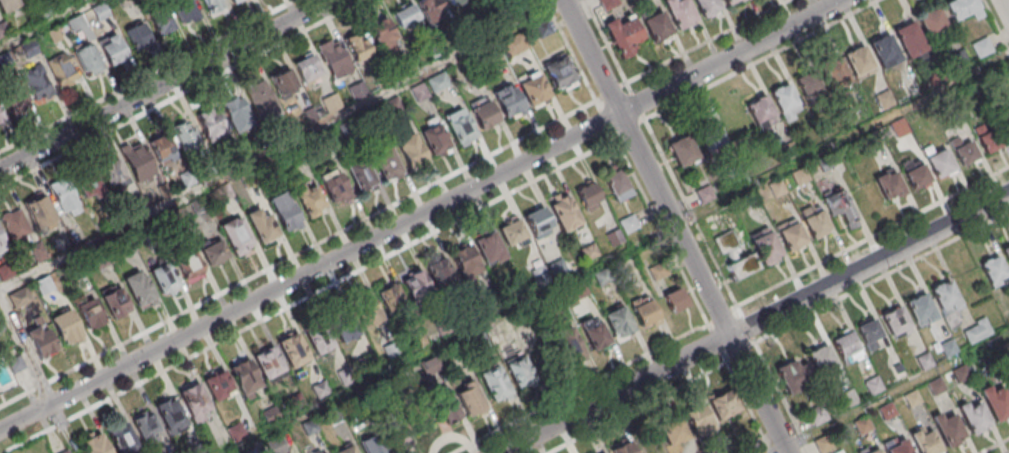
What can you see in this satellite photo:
building: (233, 1)
building: (730, 2)
building: (455, 3)
building: (7, 4)
building: (211, 4)
building: (609, 4)
road: (1005, 6)
building: (707, 7)
building: (963, 8)
building: (430, 10)
building: (184, 11)
building: (99, 13)
building: (679, 13)
building: (161, 22)
building: (932, 22)
road: (45, 23)
building: (75, 24)
road: (996, 24)
building: (657, 27)
building: (3, 28)
building: (393, 28)
building: (138, 35)
building: (909, 39)
road: (708, 42)
building: (357, 47)
building: (981, 47)
building: (113, 50)
building: (884, 50)
building: (959, 56)
building: (88, 58)
building: (334, 58)
road: (763, 60)
building: (859, 62)
building: (306, 68)
building: (60, 69)
building: (834, 73)
building: (560, 74)
building: (285, 83)
building: (37, 84)
road: (165, 84)
building: (810, 86)
building: (533, 89)
road: (180, 92)
road: (611, 92)
building: (10, 96)
building: (260, 98)
building: (509, 101)
road: (635, 102)
building: (785, 102)
building: (760, 111)
building: (237, 114)
building: (1, 117)
building: (1006, 118)
road: (605, 121)
building: (211, 124)
building: (460, 126)
road: (630, 129)
building: (710, 135)
building: (185, 136)
building: (989, 136)
building: (434, 138)
road: (842, 141)
road: (285, 146)
building: (963, 148)
building: (682, 150)
building: (162, 151)
building: (411, 151)
building: (938, 161)
building: (386, 164)
building: (140, 166)
building: (916, 173)
building: (113, 174)
building: (361, 176)
building: (889, 185)
building: (334, 187)
building: (618, 187)
building: (90, 189)
building: (588, 195)
building: (65, 196)
building: (310, 198)
building: (840, 207)
building: (39, 212)
building: (285, 212)
road: (421, 214)
building: (566, 216)
road: (694, 219)
building: (815, 221)
building: (539, 223)
building: (15, 225)
building: (629, 225)
building: (264, 227)
road: (675, 227)
building: (791, 234)
building: (236, 235)
road: (872, 235)
road: (664, 237)
building: (615, 239)
building: (725, 241)
building: (2, 245)
building: (765, 246)
building: (490, 251)
building: (214, 253)
building: (590, 253)
building: (1007, 254)
building: (191, 262)
building: (467, 264)
building: (741, 266)
building: (558, 270)
building: (658, 273)
building: (995, 273)
building: (442, 277)
building: (603, 278)
road: (882, 278)
building: (542, 279)
building: (165, 281)
building: (416, 287)
building: (139, 290)
road: (309, 296)
building: (675, 299)
building: (946, 299)
building: (555, 302)
building: (393, 303)
building: (115, 304)
building: (483, 308)
building: (644, 311)
building: (921, 311)
building: (367, 313)
building: (89, 315)
road: (723, 317)
building: (618, 322)
road: (755, 323)
building: (897, 324)
building: (344, 327)
building: (444, 327)
building: (66, 328)
road: (748, 329)
building: (594, 332)
building: (978, 334)
building: (870, 335)
building: (318, 339)
building: (419, 339)
building: (41, 340)
building: (480, 342)
road: (718, 344)
building: (570, 345)
building: (847, 350)
building: (949, 350)
building: (1006, 350)
building: (393, 351)
building: (293, 352)
road: (741, 353)
road: (726, 359)
building: (823, 363)
building: (926, 363)
building: (368, 364)
building: (269, 366)
building: (429, 368)
building: (518, 372)
building: (899, 372)
building: (962, 375)
road: (36, 376)
building: (346, 377)
building: (245, 379)
building: (795, 379)
building: (1007, 380)
building: (494, 383)
building: (875, 387)
building: (219, 388)
road: (583, 388)
building: (938, 388)
building: (321, 391)
building: (385, 392)
road: (781, 396)
building: (469, 399)
building: (913, 400)
building: (194, 402)
building: (296, 403)
building: (997, 404)
building: (445, 406)
building: (724, 406)
road: (639, 408)
road: (750, 408)
road: (860, 412)
building: (888, 412)
building: (171, 416)
building: (271, 417)
building: (333, 417)
building: (818, 417)
building: (975, 420)
building: (699, 423)
building: (864, 427)
building: (310, 429)
building: (147, 430)
building: (673, 430)
building: (950, 431)
building: (237, 433)
building: (402, 434)
building: (122, 440)
building: (926, 443)
building: (367, 445)
building: (898, 445)
building: (94, 446)
building: (277, 446)
building: (825, 446)
road: (997, 446)
building: (752, 448)
building: (624, 449)
building: (349, 450)
building: (872, 450)
building: (65, 451)
building: (252, 452)
building: (603, 452)
building: (730, 452)

